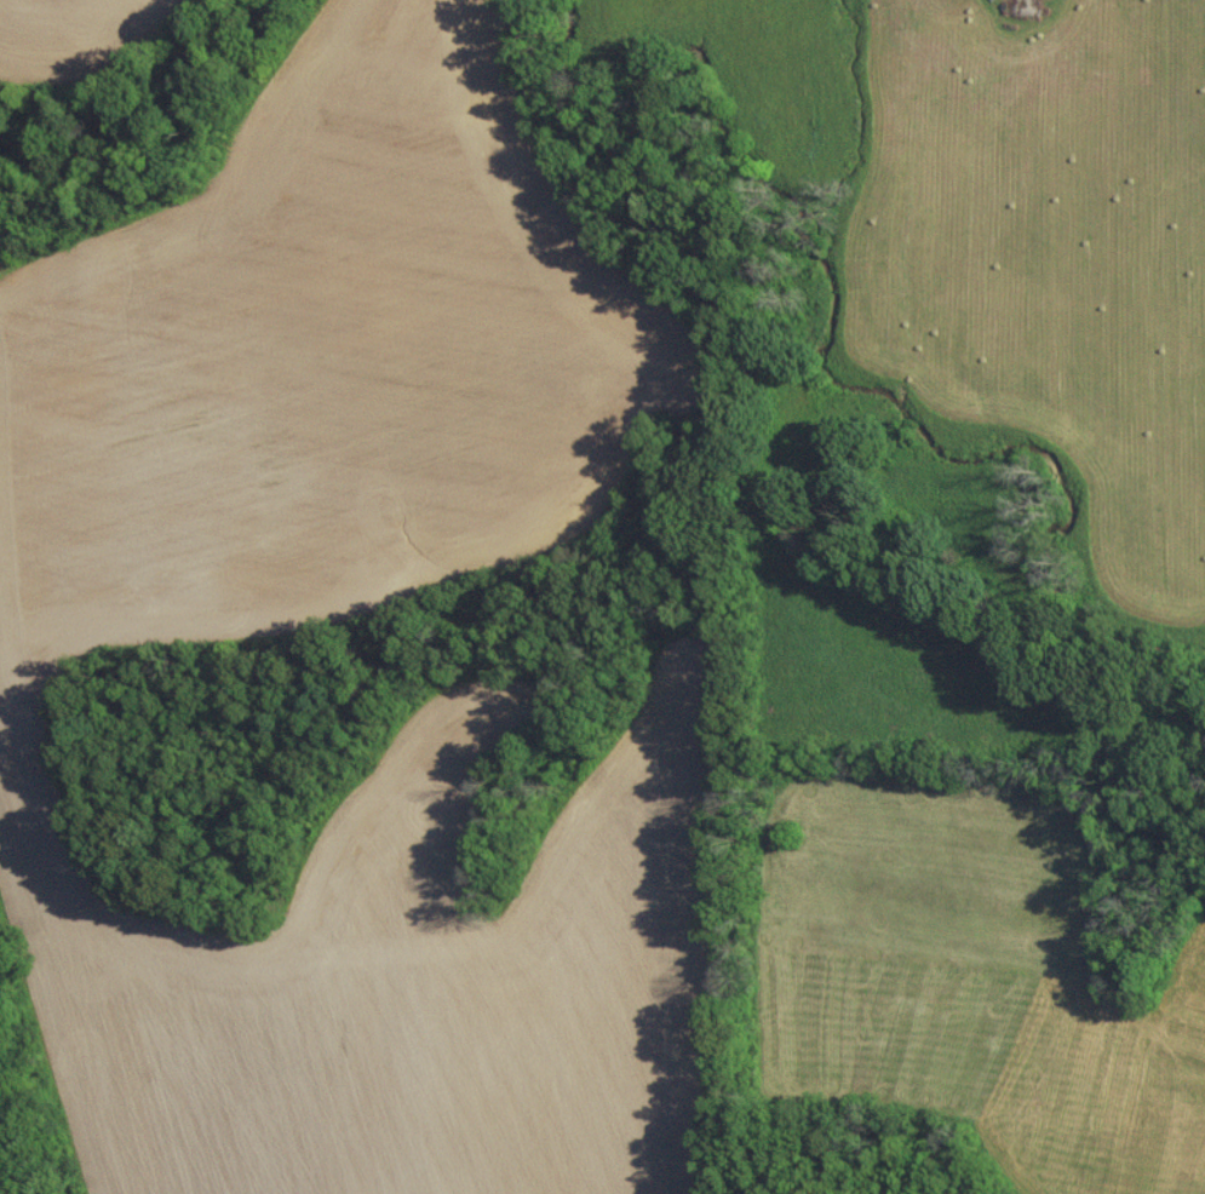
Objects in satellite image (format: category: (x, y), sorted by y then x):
railway: (10, 1159)

